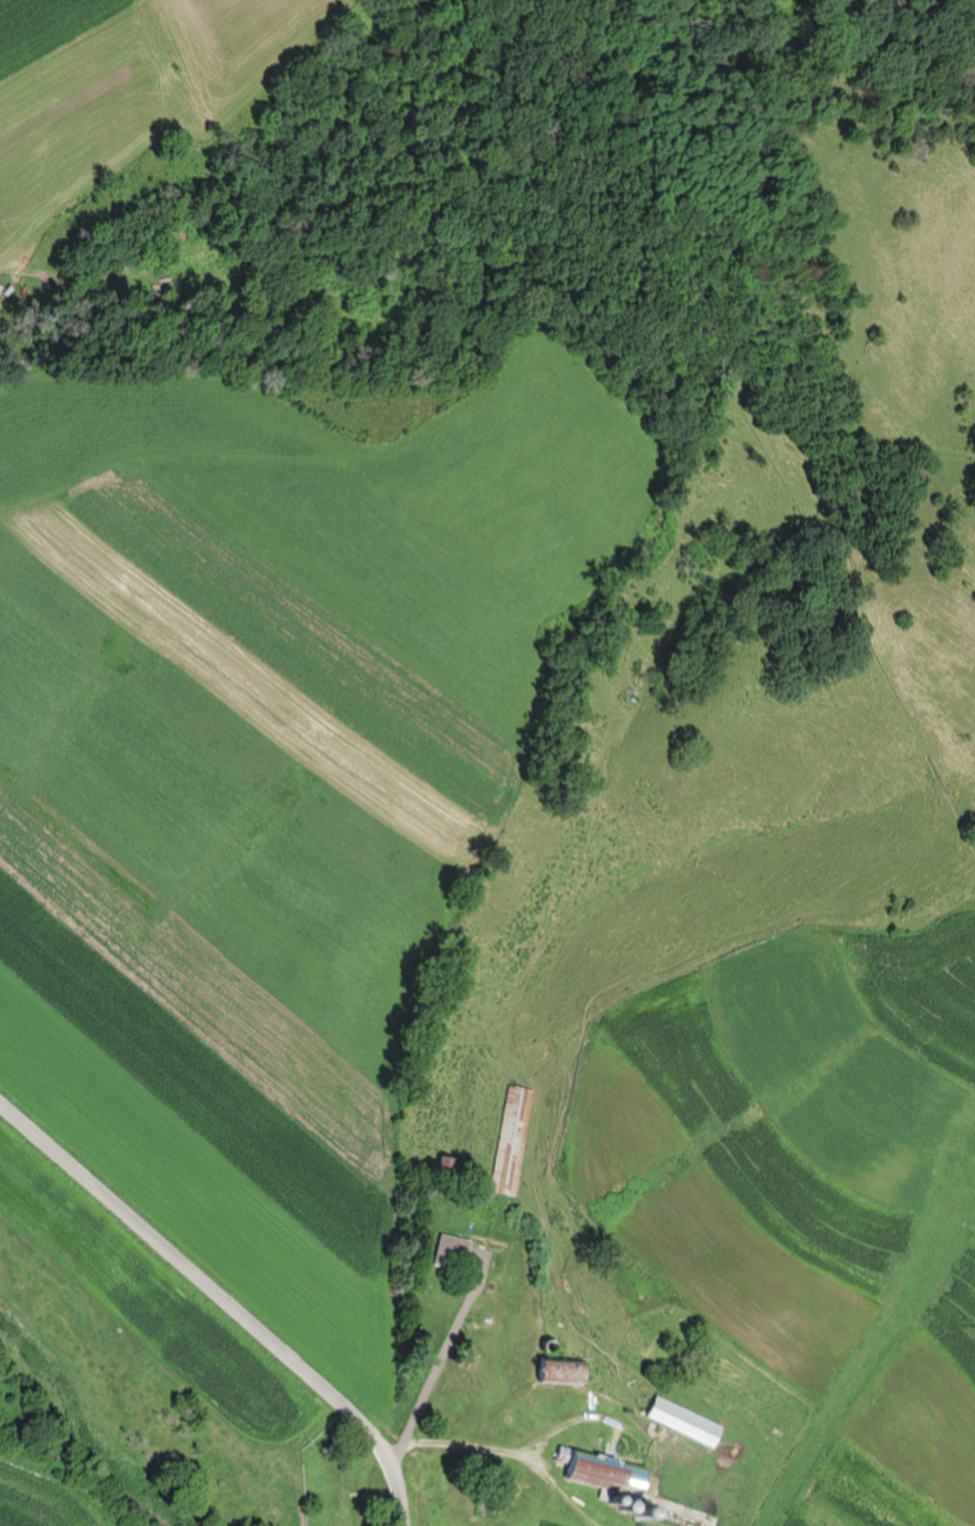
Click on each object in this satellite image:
building: (510, 1139)
building: (445, 1165)
building: (450, 1251)
road: (228, 1316)
building: (560, 1371)
building: (683, 1419)
building: (589, 1470)

